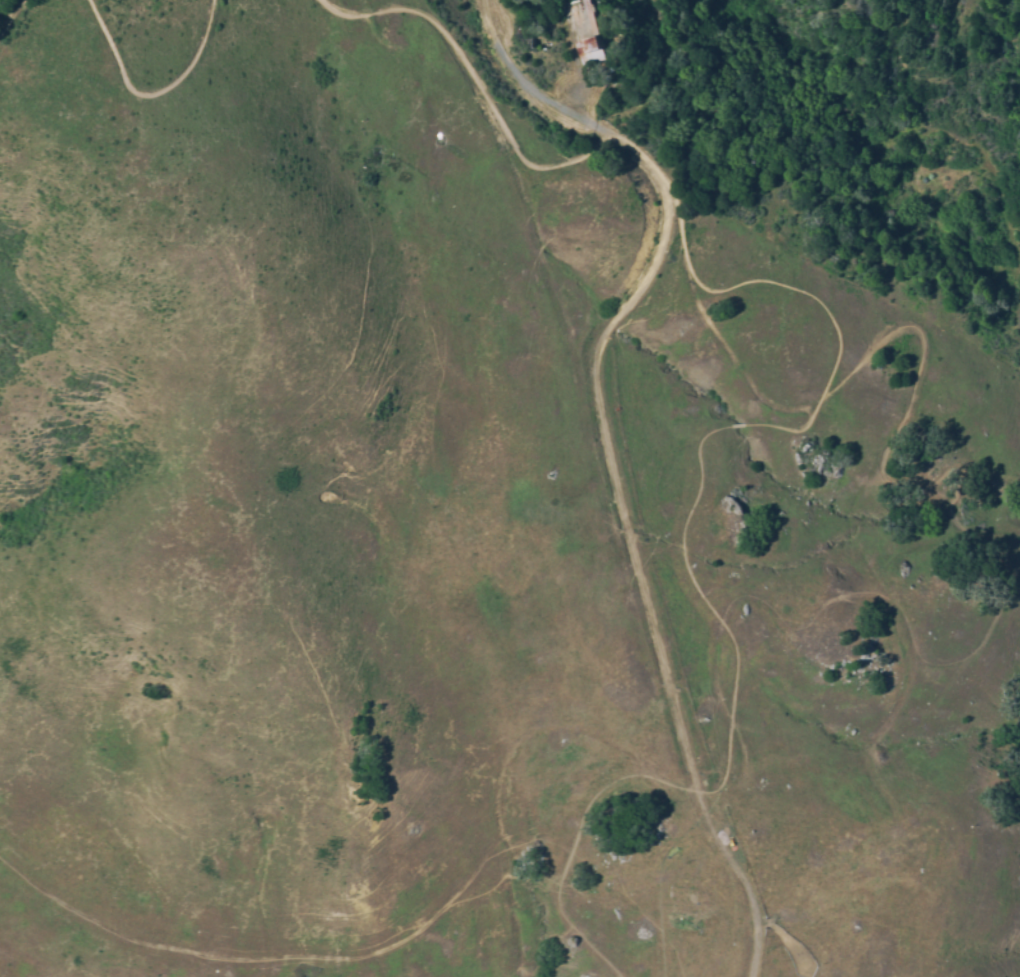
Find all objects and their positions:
building: (591, 50)
road: (657, 453)

